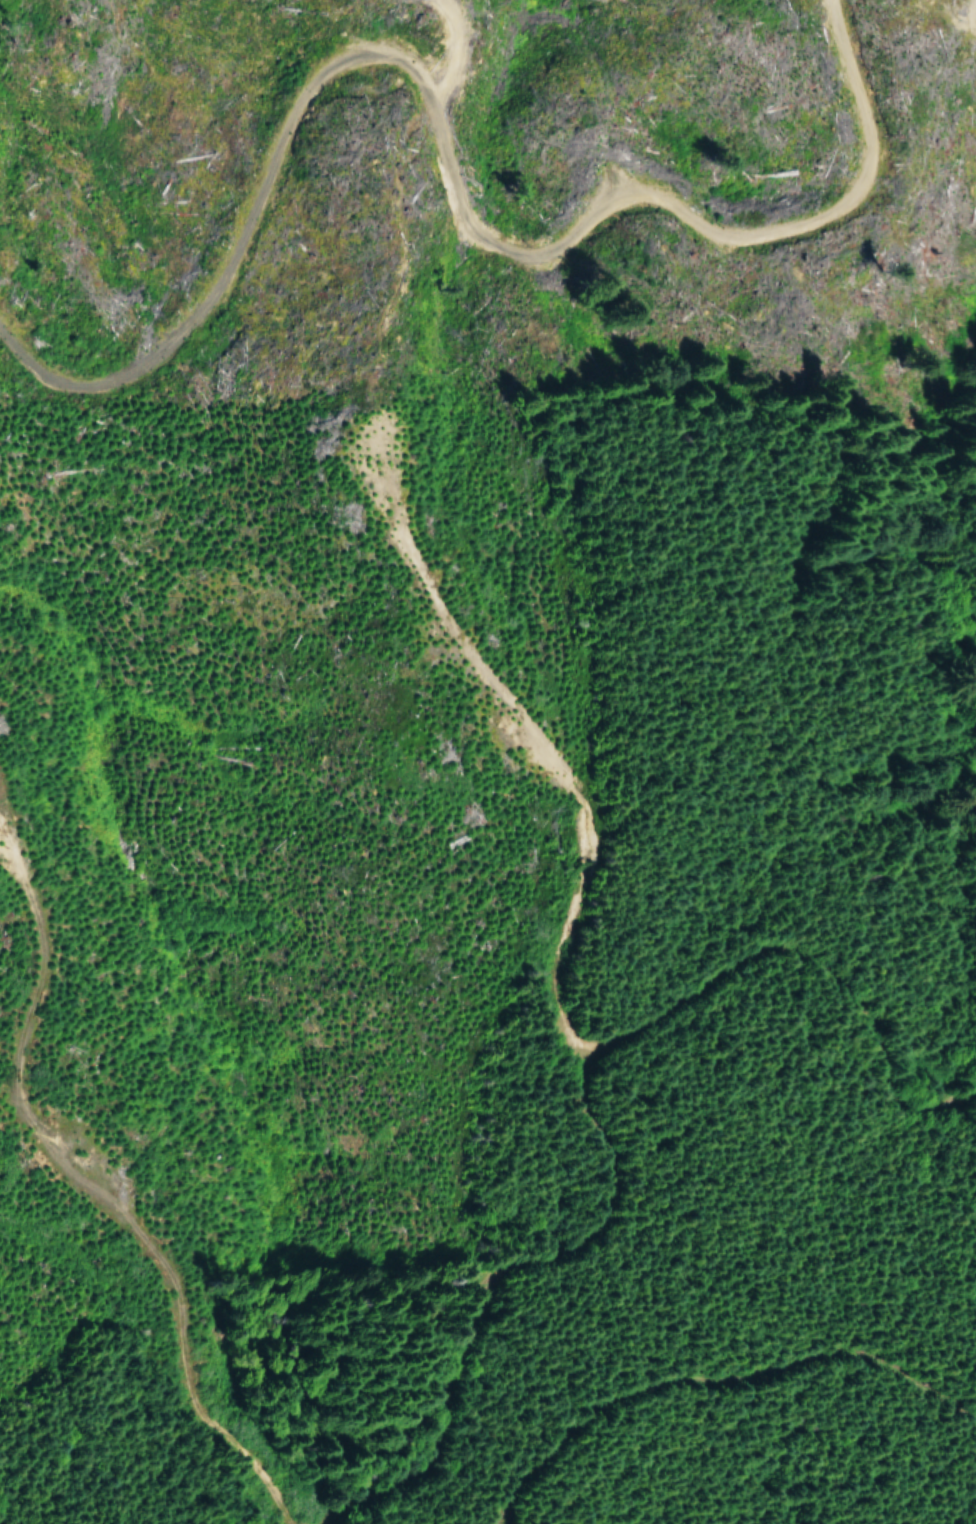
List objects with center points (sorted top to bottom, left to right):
road: (352, 182)
road: (571, 1101)
road: (648, 1353)

